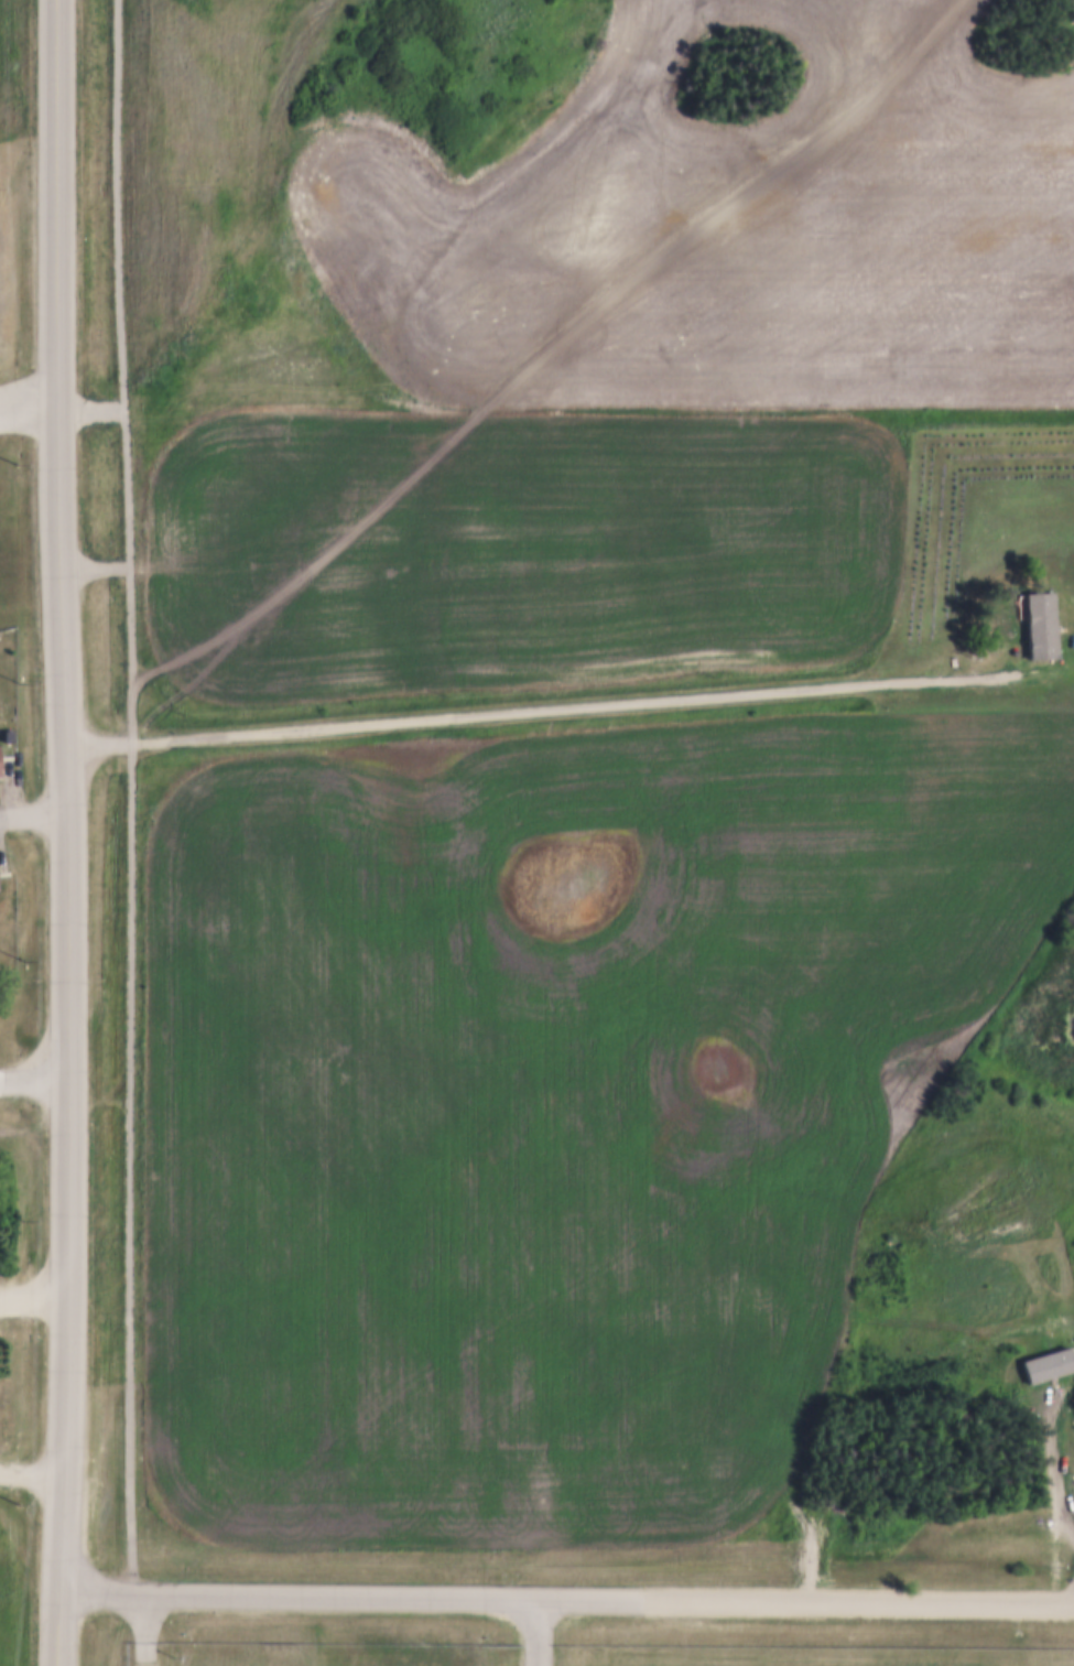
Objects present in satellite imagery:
road: (180, 223)
road: (29, 383)
road: (28, 422)
building: (1046, 618)
road: (468, 716)
building: (0, 764)
road: (124, 798)
road: (29, 816)
road: (57, 832)
road: (29, 1078)
road: (348, 1598)
road: (857, 1600)
road: (144, 1630)
road: (535, 1632)

